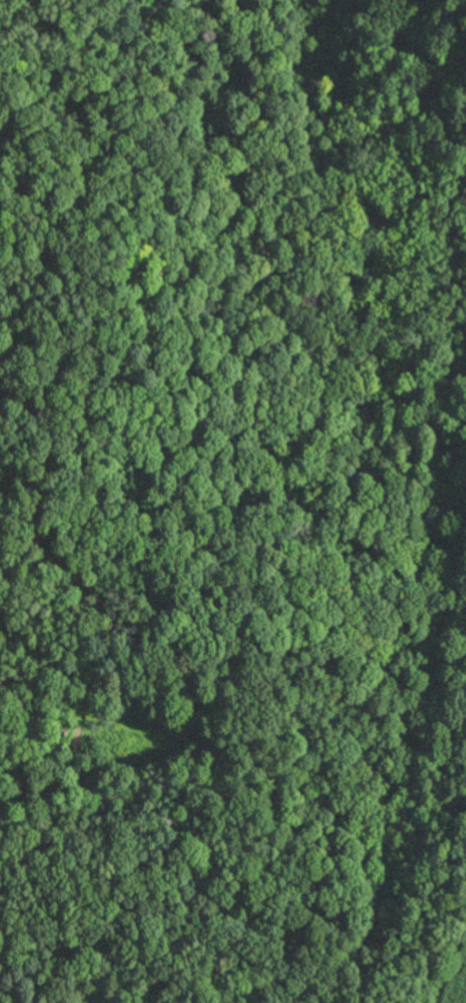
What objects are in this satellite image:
crop: (453, 964)

